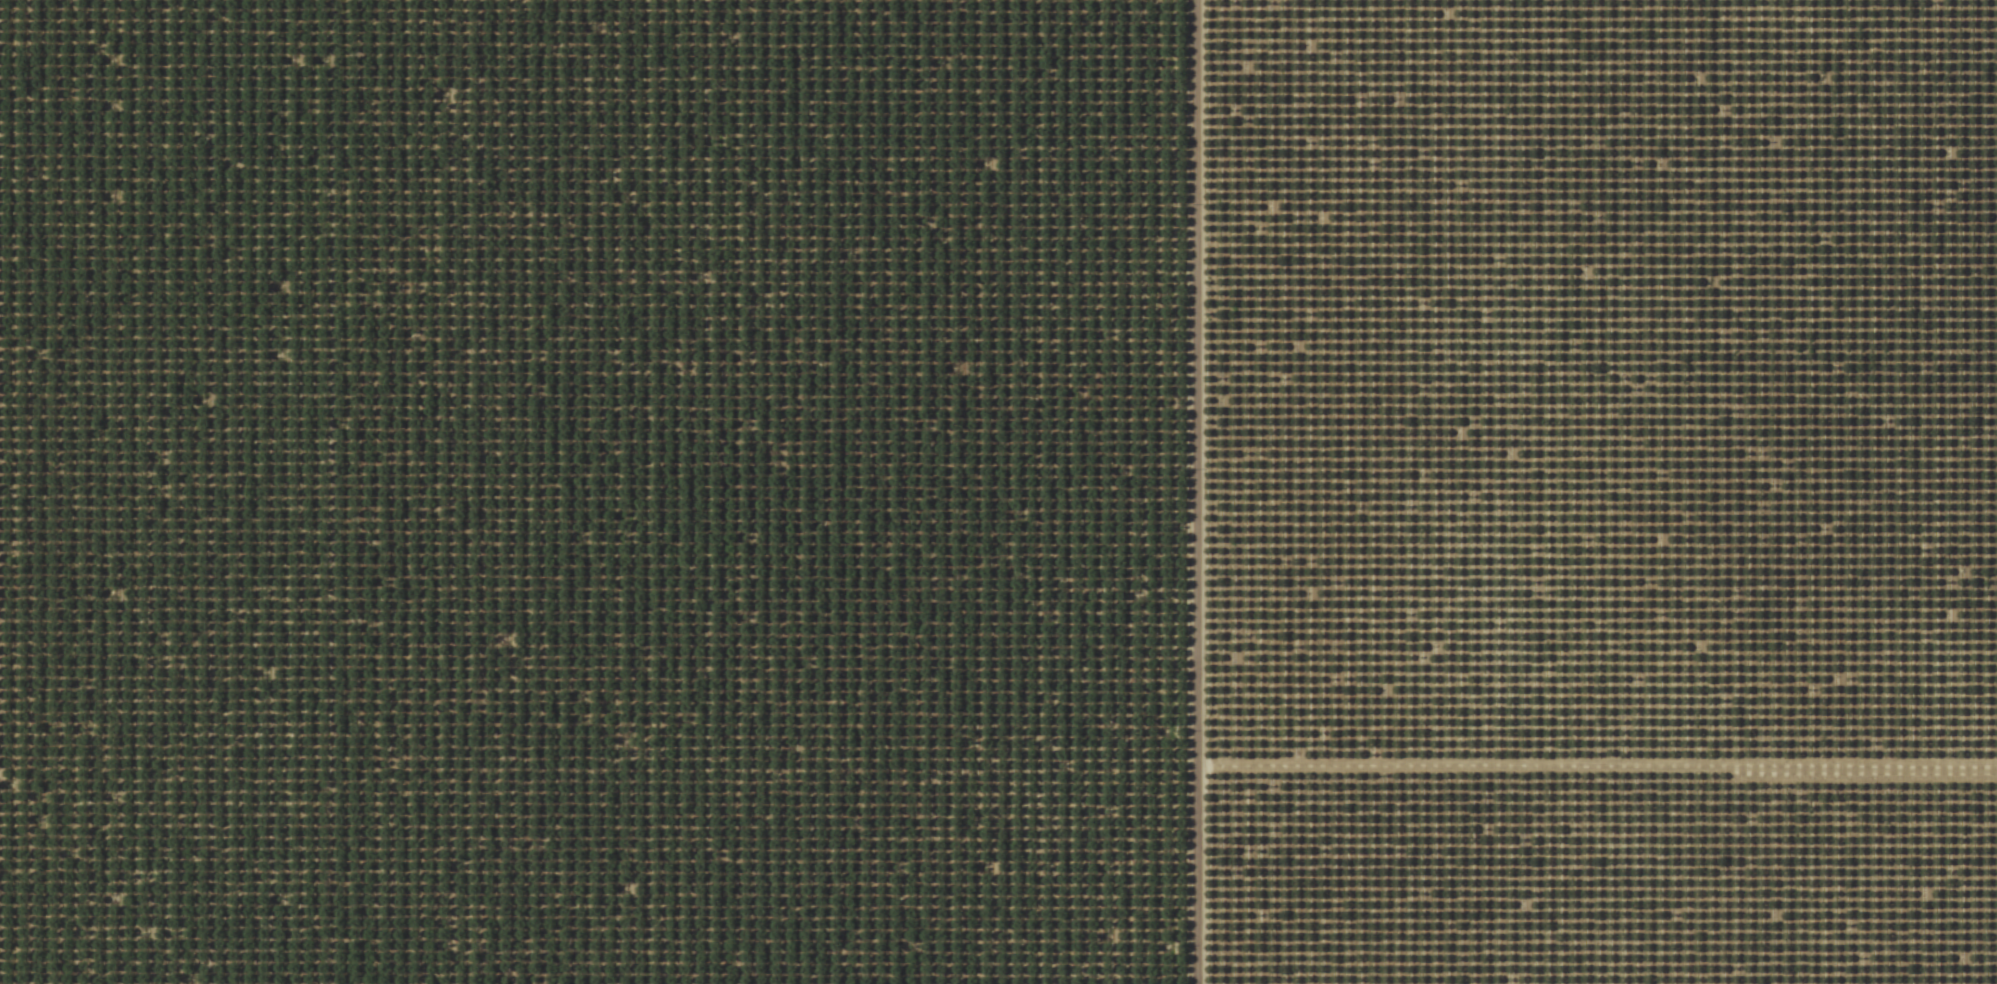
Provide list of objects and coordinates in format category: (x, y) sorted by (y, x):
road: (1199, 492)
road: (1598, 762)

